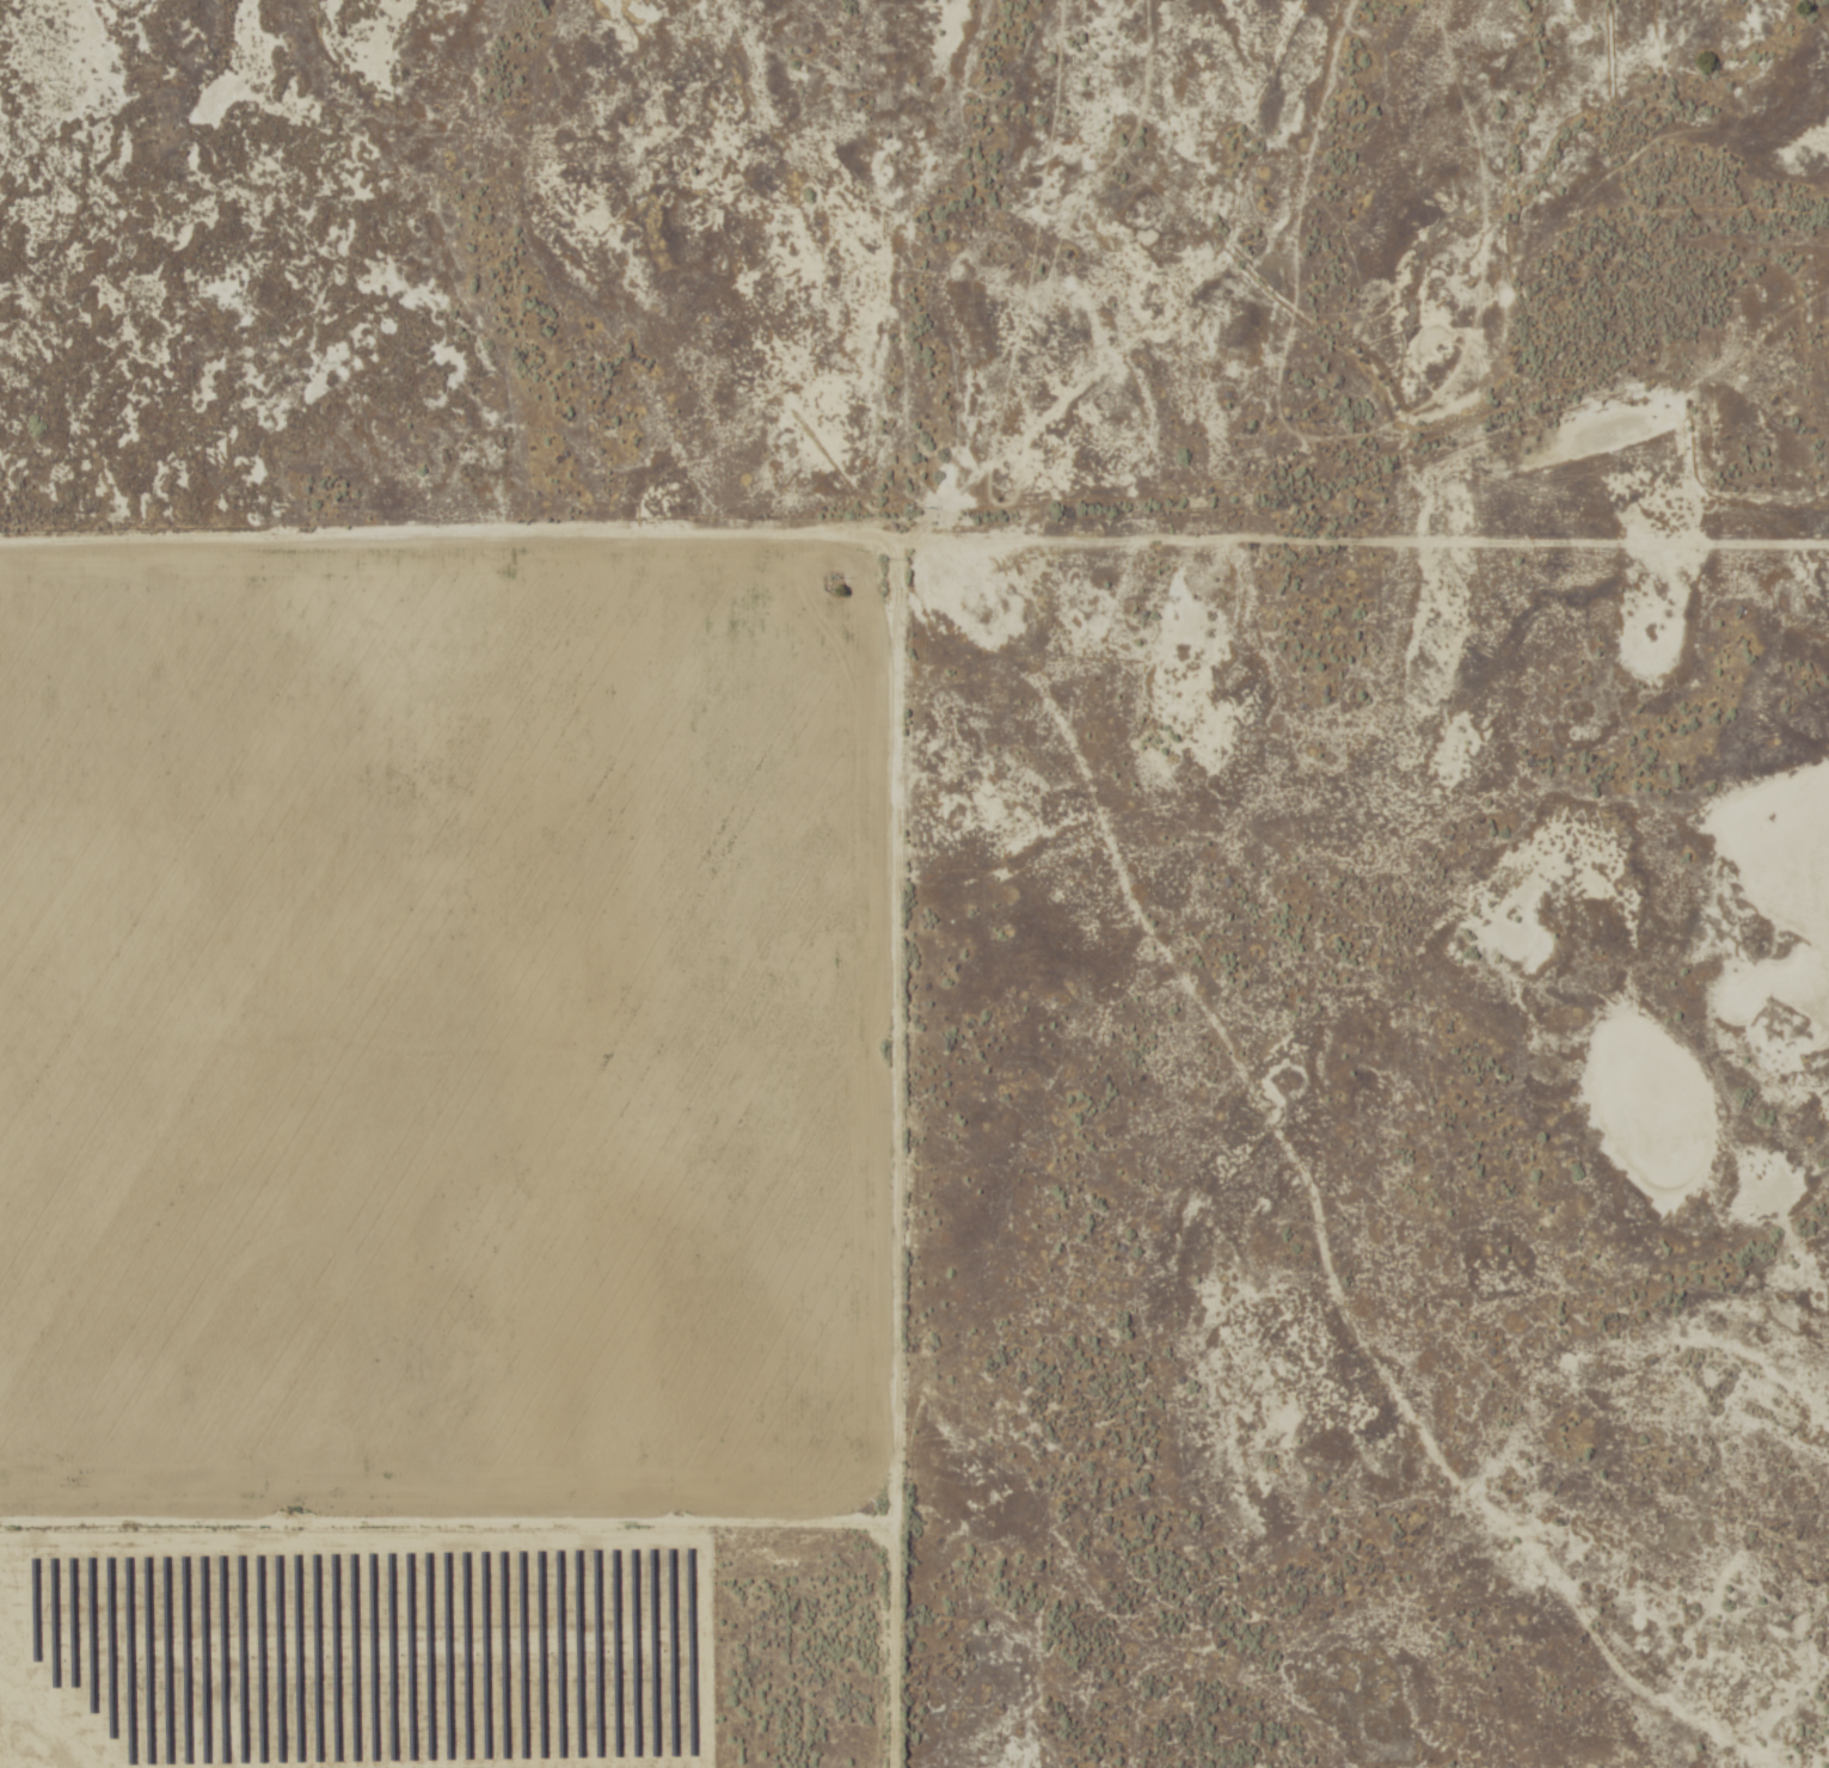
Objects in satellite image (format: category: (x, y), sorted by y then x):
solar farm: (381, 1641)

